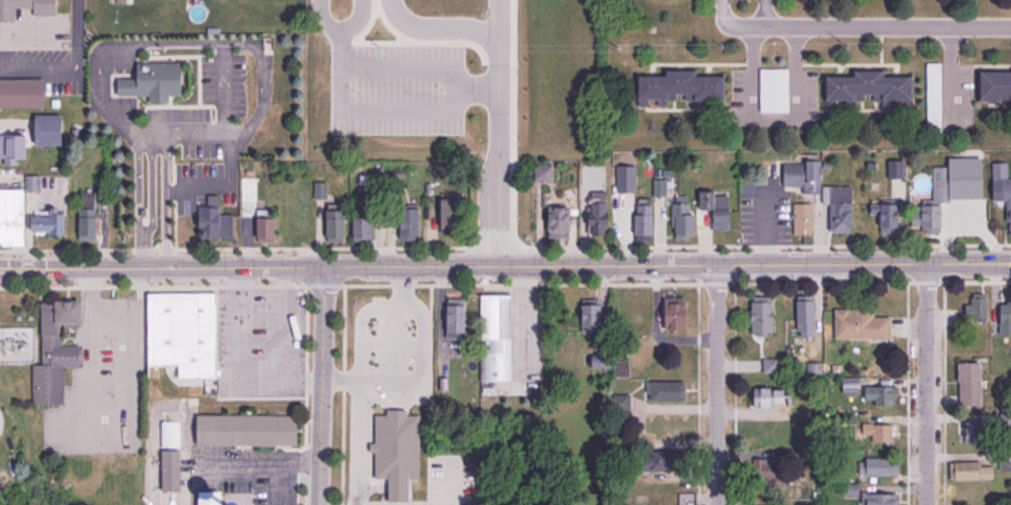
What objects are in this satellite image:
building: (26, 7)
road: (500, 13)
road: (765, 13)
road: (351, 17)
road: (319, 20)
road: (436, 24)
road: (732, 27)
road: (888, 28)
building: (153, 80)
building: (997, 84)
building: (682, 87)
building: (870, 87)
building: (774, 89)
road: (475, 90)
building: (22, 92)
building: (934, 94)
road: (770, 114)
road: (435, 118)
building: (48, 129)
road: (500, 145)
building: (12, 147)
building: (896, 169)
building: (544, 172)
building: (803, 174)
building: (626, 178)
building: (394, 181)
building: (32, 182)
building: (1004, 183)
building: (659, 186)
building: (321, 190)
building: (942, 191)
building: (249, 195)
building: (707, 199)
building: (839, 206)
building: (962, 210)
building: (598, 213)
building: (451, 215)
building: (11, 216)
building: (643, 216)
building: (887, 216)
building: (928, 216)
building: (88, 217)
building: (803, 218)
building: (683, 219)
building: (721, 219)
building: (214, 220)
building: (560, 220)
building: (49, 223)
building: (410, 223)
building: (336, 225)
building: (266, 228)
building: (363, 228)
road: (505, 247)
road: (505, 265)
road: (511, 265)
road: (505, 284)
road: (262, 292)
building: (977, 305)
building: (675, 312)
building: (594, 314)
building: (763, 314)
building: (806, 315)
building: (1005, 317)
building: (457, 318)
building: (856, 324)
road: (241, 331)
building: (495, 337)
building: (180, 338)
parking lot: (528, 340)
road: (521, 341)
parking lot: (260, 342)
power substation: (16, 344)
road: (283, 344)
building: (56, 350)
building: (601, 362)
building: (771, 364)
road: (305, 366)
building: (622, 368)
building: (814, 368)
building: (971, 383)
parking lot: (102, 385)
road: (715, 385)
building: (850, 385)
road: (926, 385)
road: (321, 387)
building: (664, 388)
building: (196, 389)
building: (880, 393)
road: (907, 393)
road: (943, 393)
road: (698, 394)
road: (735, 394)
road: (342, 395)
building: (771, 396)
building: (1005, 419)
building: (245, 429)
building: (977, 430)
building: (879, 432)
building: (170, 433)
building: (397, 450)
building: (801, 455)
building: (661, 459)
building: (1005, 459)
road: (263, 464)
building: (878, 466)
building: (170, 469)
building: (835, 469)
building: (970, 470)
building: (768, 472)
building: (851, 489)
building: (211, 498)
building: (687, 498)
building: (880, 498)

